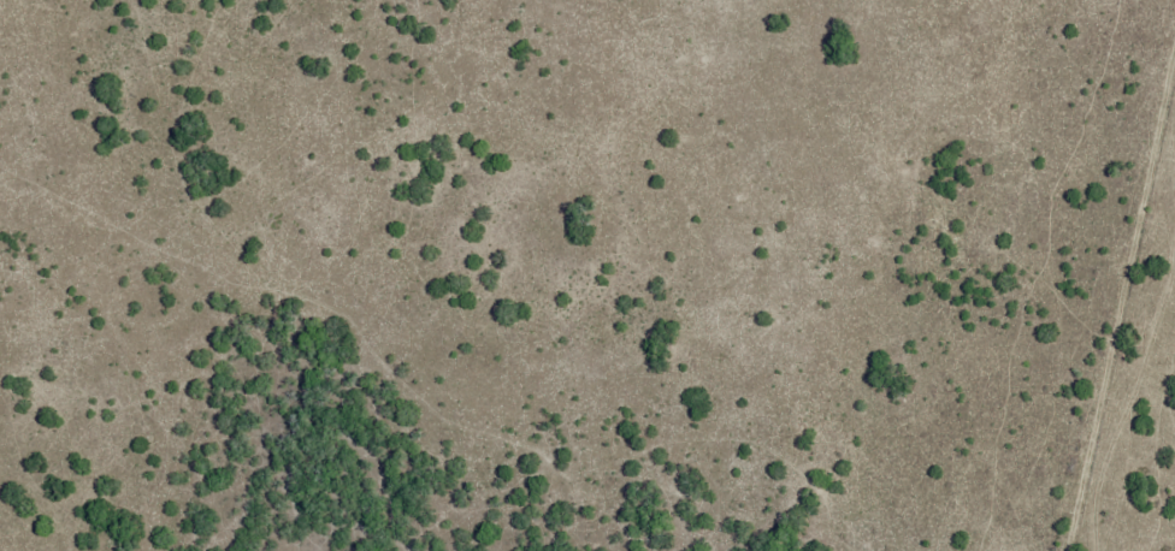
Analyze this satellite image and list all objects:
road: (447, 313)
road: (1128, 336)

